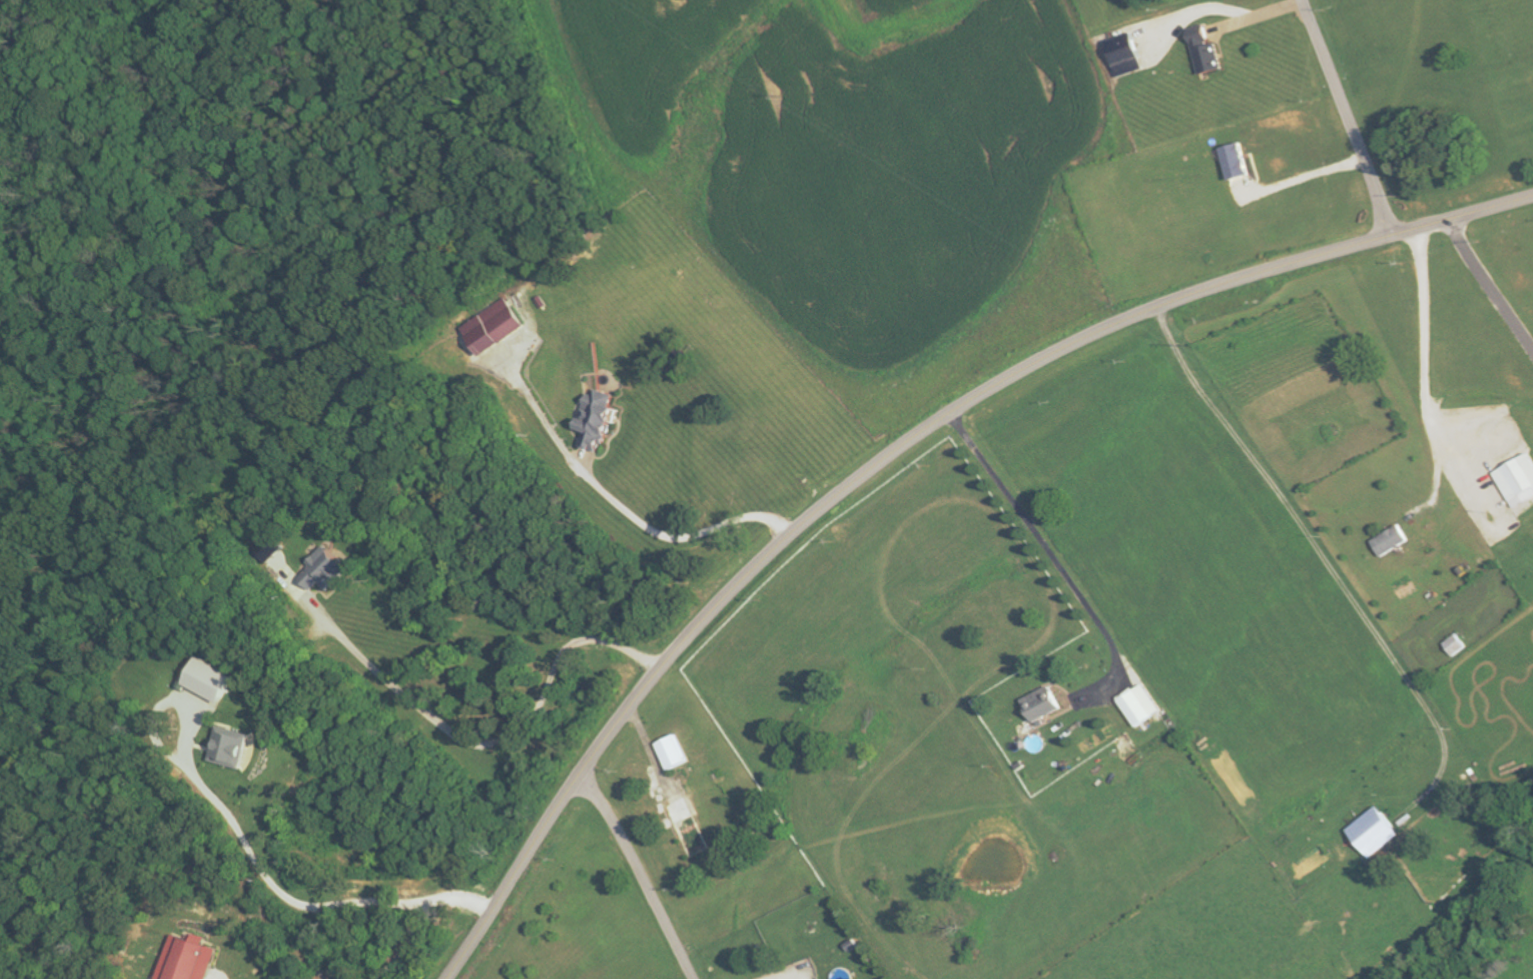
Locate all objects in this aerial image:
road: (1221, 10)
building: (1203, 53)
building: (1123, 54)
road: (1350, 117)
building: (1235, 160)
road: (1312, 174)
road: (1461, 240)
road: (1501, 307)
building: (493, 326)
road: (1421, 357)
building: (595, 418)
road: (895, 454)
building: (1517, 480)
road: (620, 509)
building: (1389, 540)
road: (1048, 547)
building: (323, 570)
building: (1455, 645)
building: (209, 680)
building: (1043, 704)
building: (1140, 705)
road: (481, 742)
building: (230, 747)
building: (672, 752)
building: (1374, 832)
road: (644, 875)
road: (289, 892)
road: (409, 940)
building: (185, 960)
road: (783, 973)

